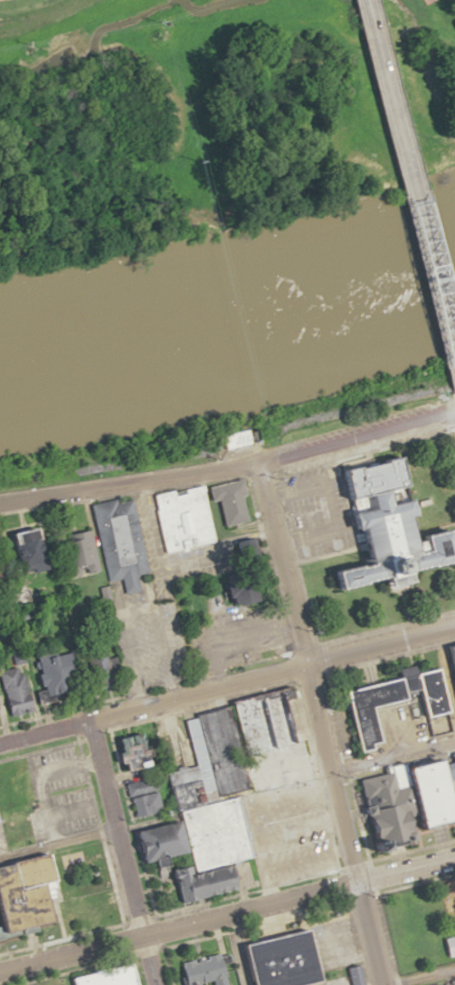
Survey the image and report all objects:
park: (427, 76)
road: (408, 193)
river: (228, 317)
parking lot: (350, 428)
parking lot: (359, 447)
road: (229, 464)
parking lot: (308, 513)
building: (191, 514)
building: (374, 525)
building: (112, 542)
building: (13, 548)
building: (70, 553)
building: (67, 669)
building: (450, 681)
road: (227, 684)
building: (9, 693)
building: (381, 702)
road: (317, 723)
building: (122, 752)
building: (216, 791)
building: (138, 797)
building: (403, 797)
road: (120, 852)
building: (25, 895)
road: (227, 913)
parking lot: (331, 945)
building: (448, 946)
building: (270, 960)
building: (195, 972)
building: (352, 975)
building: (102, 977)
road: (424, 977)
building: (445, 983)

